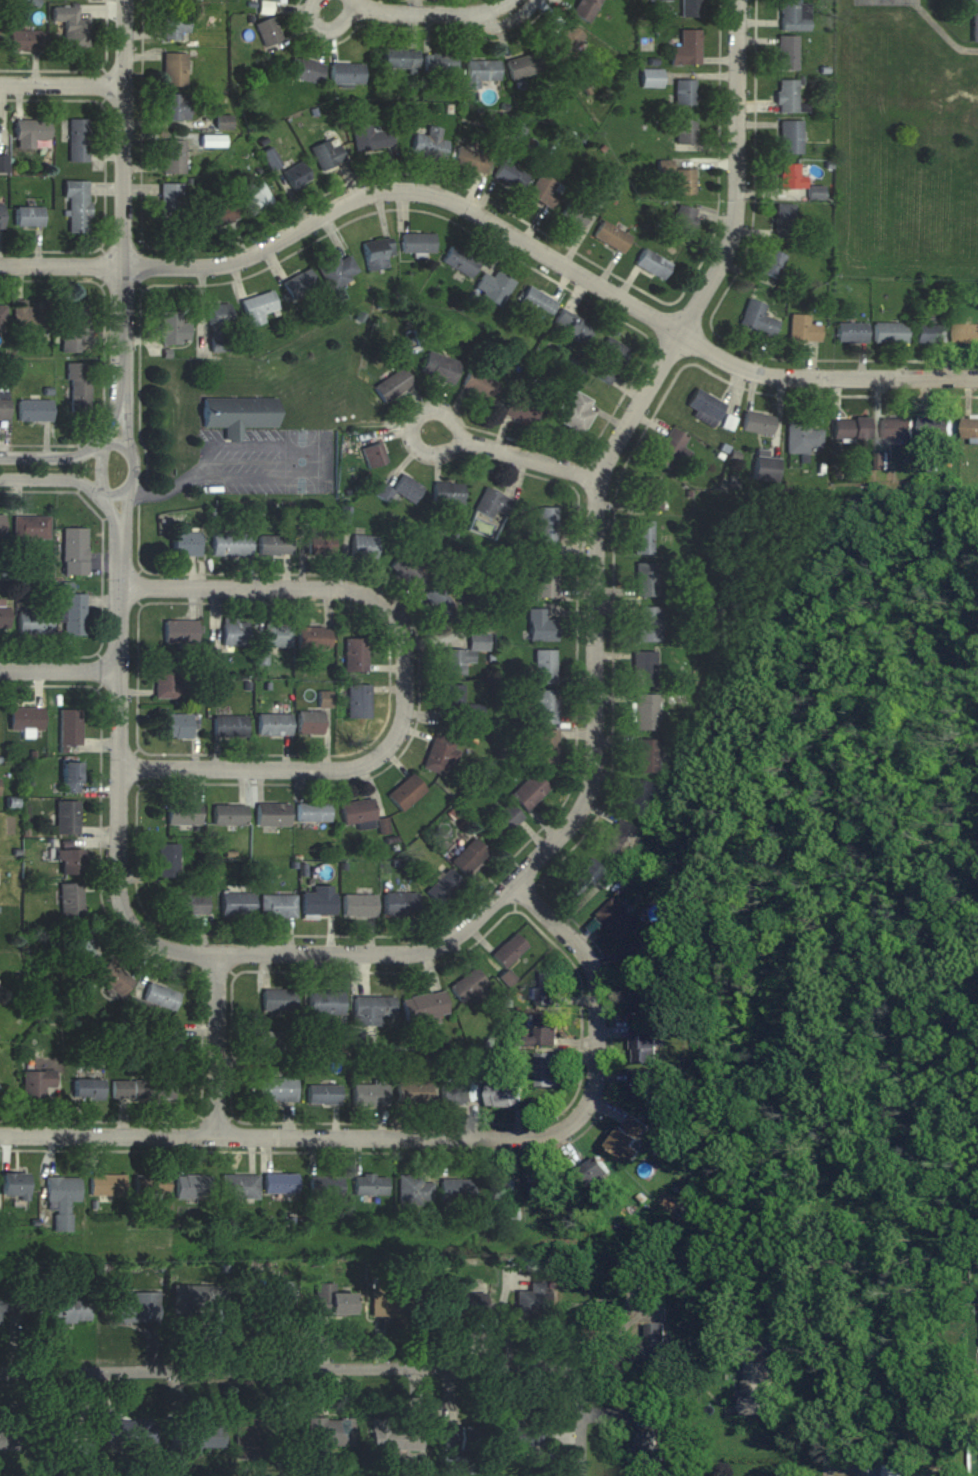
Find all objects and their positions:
building: (272, 0)
building: (658, 0)
road: (360, 2)
building: (690, 8)
building: (584, 9)
road: (437, 12)
building: (793, 15)
building: (974, 21)
building: (174, 25)
building: (71, 26)
road: (330, 28)
building: (268, 31)
building: (23, 40)
building: (565, 41)
building: (686, 48)
building: (787, 53)
building: (400, 60)
building: (439, 62)
building: (523, 66)
building: (173, 70)
building: (305, 70)
building: (481, 72)
building: (346, 74)
building: (650, 78)
road: (63, 84)
building: (684, 92)
building: (786, 95)
building: (175, 107)
building: (223, 122)
building: (31, 130)
building: (517, 130)
building: (685, 131)
building: (372, 137)
building: (790, 137)
building: (78, 141)
building: (430, 145)
building: (327, 155)
building: (172, 157)
building: (270, 158)
building: (470, 160)
building: (3, 165)
building: (296, 175)
building: (510, 175)
building: (790, 176)
building: (684, 182)
building: (544, 191)
building: (256, 198)
building: (171, 206)
building: (77, 207)
road: (125, 207)
building: (220, 214)
building: (574, 215)
building: (1, 216)
building: (28, 217)
building: (783, 221)
building: (683, 223)
building: (612, 237)
building: (417, 242)
building: (377, 252)
road: (551, 254)
building: (459, 261)
road: (62, 263)
building: (771, 263)
building: (652, 264)
building: (337, 270)
building: (299, 283)
building: (494, 287)
building: (537, 302)
building: (258, 307)
building: (30, 315)
building: (757, 317)
building: (2, 318)
building: (570, 326)
building: (218, 328)
building: (803, 328)
building: (75, 329)
building: (172, 329)
building: (851, 332)
building: (889, 332)
building: (931, 334)
building: (967, 334)
building: (609, 360)
building: (440, 367)
building: (392, 385)
building: (479, 385)
building: (78, 388)
building: (704, 407)
building: (3, 408)
building: (521, 408)
building: (34, 410)
building: (575, 413)
building: (239, 415)
building: (757, 423)
building: (935, 427)
building: (850, 428)
building: (896, 428)
building: (970, 428)
building: (802, 436)
road: (279, 447)
road: (424, 450)
building: (670, 450)
road: (105, 453)
building: (373, 455)
road: (55, 456)
road: (525, 461)
building: (764, 468)
road: (135, 470)
road: (71, 479)
road: (170, 489)
building: (402, 490)
building: (448, 492)
building: (650, 494)
building: (492, 503)
building: (1, 525)
building: (31, 527)
building: (546, 527)
building: (642, 538)
building: (318, 541)
building: (184, 544)
building: (230, 545)
building: (274, 545)
building: (363, 547)
building: (74, 551)
building: (410, 567)
building: (646, 579)
building: (545, 581)
road: (596, 597)
building: (443, 606)
building: (74, 614)
building: (3, 616)
building: (33, 622)
building: (648, 624)
building: (541, 626)
building: (180, 632)
building: (234, 632)
building: (277, 634)
building: (313, 638)
building: (463, 654)
building: (355, 655)
building: (544, 666)
building: (644, 668)
road: (60, 670)
road: (406, 679)
building: (170, 681)
building: (451, 697)
building: (358, 701)
building: (547, 706)
building: (645, 712)
building: (25, 718)
building: (309, 722)
building: (273, 724)
building: (178, 725)
building: (230, 725)
building: (69, 727)
building: (546, 746)
building: (439, 754)
building: (647, 755)
road: (121, 774)
building: (70, 776)
building: (528, 792)
building: (405, 793)
building: (636, 797)
building: (312, 812)
building: (357, 812)
building: (183, 814)
building: (272, 815)
building: (229, 816)
building: (67, 817)
building: (502, 822)
building: (618, 838)
building: (468, 857)
building: (169, 861)
building: (69, 862)
building: (584, 876)
building: (442, 887)
building: (71, 900)
building: (319, 902)
building: (236, 904)
building: (190, 905)
building: (399, 905)
building: (277, 906)
building: (359, 906)
building: (619, 919)
building: (84, 941)
building: (508, 949)
building: (635, 960)
building: (114, 977)
building: (506, 977)
building: (468, 985)
building: (546, 988)
building: (160, 996)
building: (278, 999)
building: (325, 1002)
building: (424, 1005)
building: (644, 1006)
building: (372, 1009)
building: (545, 1028)
building: (167, 1043)
road: (220, 1043)
building: (643, 1046)
building: (266, 1047)
building: (547, 1069)
building: (36, 1082)
building: (639, 1084)
building: (87, 1088)
building: (276, 1088)
building: (142, 1089)
building: (412, 1092)
building: (458, 1093)
building: (323, 1094)
building: (504, 1094)
building: (369, 1095)
road: (427, 1137)
building: (627, 1140)
building: (594, 1172)
building: (149, 1183)
building: (279, 1183)
building: (106, 1184)
building: (13, 1185)
building: (239, 1185)
building: (369, 1185)
building: (192, 1186)
building: (325, 1186)
building: (546, 1186)
building: (500, 1188)
building: (413, 1189)
building: (456, 1190)
building: (62, 1197)
building: (196, 1297)
building: (11, 1300)
building: (536, 1300)
building: (333, 1301)
building: (276, 1302)
building: (392, 1302)
building: (460, 1304)
building: (138, 1307)
building: (66, 1308)
building: (651, 1344)
road: (291, 1369)
building: (756, 1389)
road: (827, 1410)
road: (583, 1421)
building: (128, 1433)
building: (328, 1433)
building: (524, 1433)
building: (10, 1436)
building: (198, 1436)
building: (393, 1436)
building: (259, 1439)
building: (462, 1441)
building: (646, 1453)

